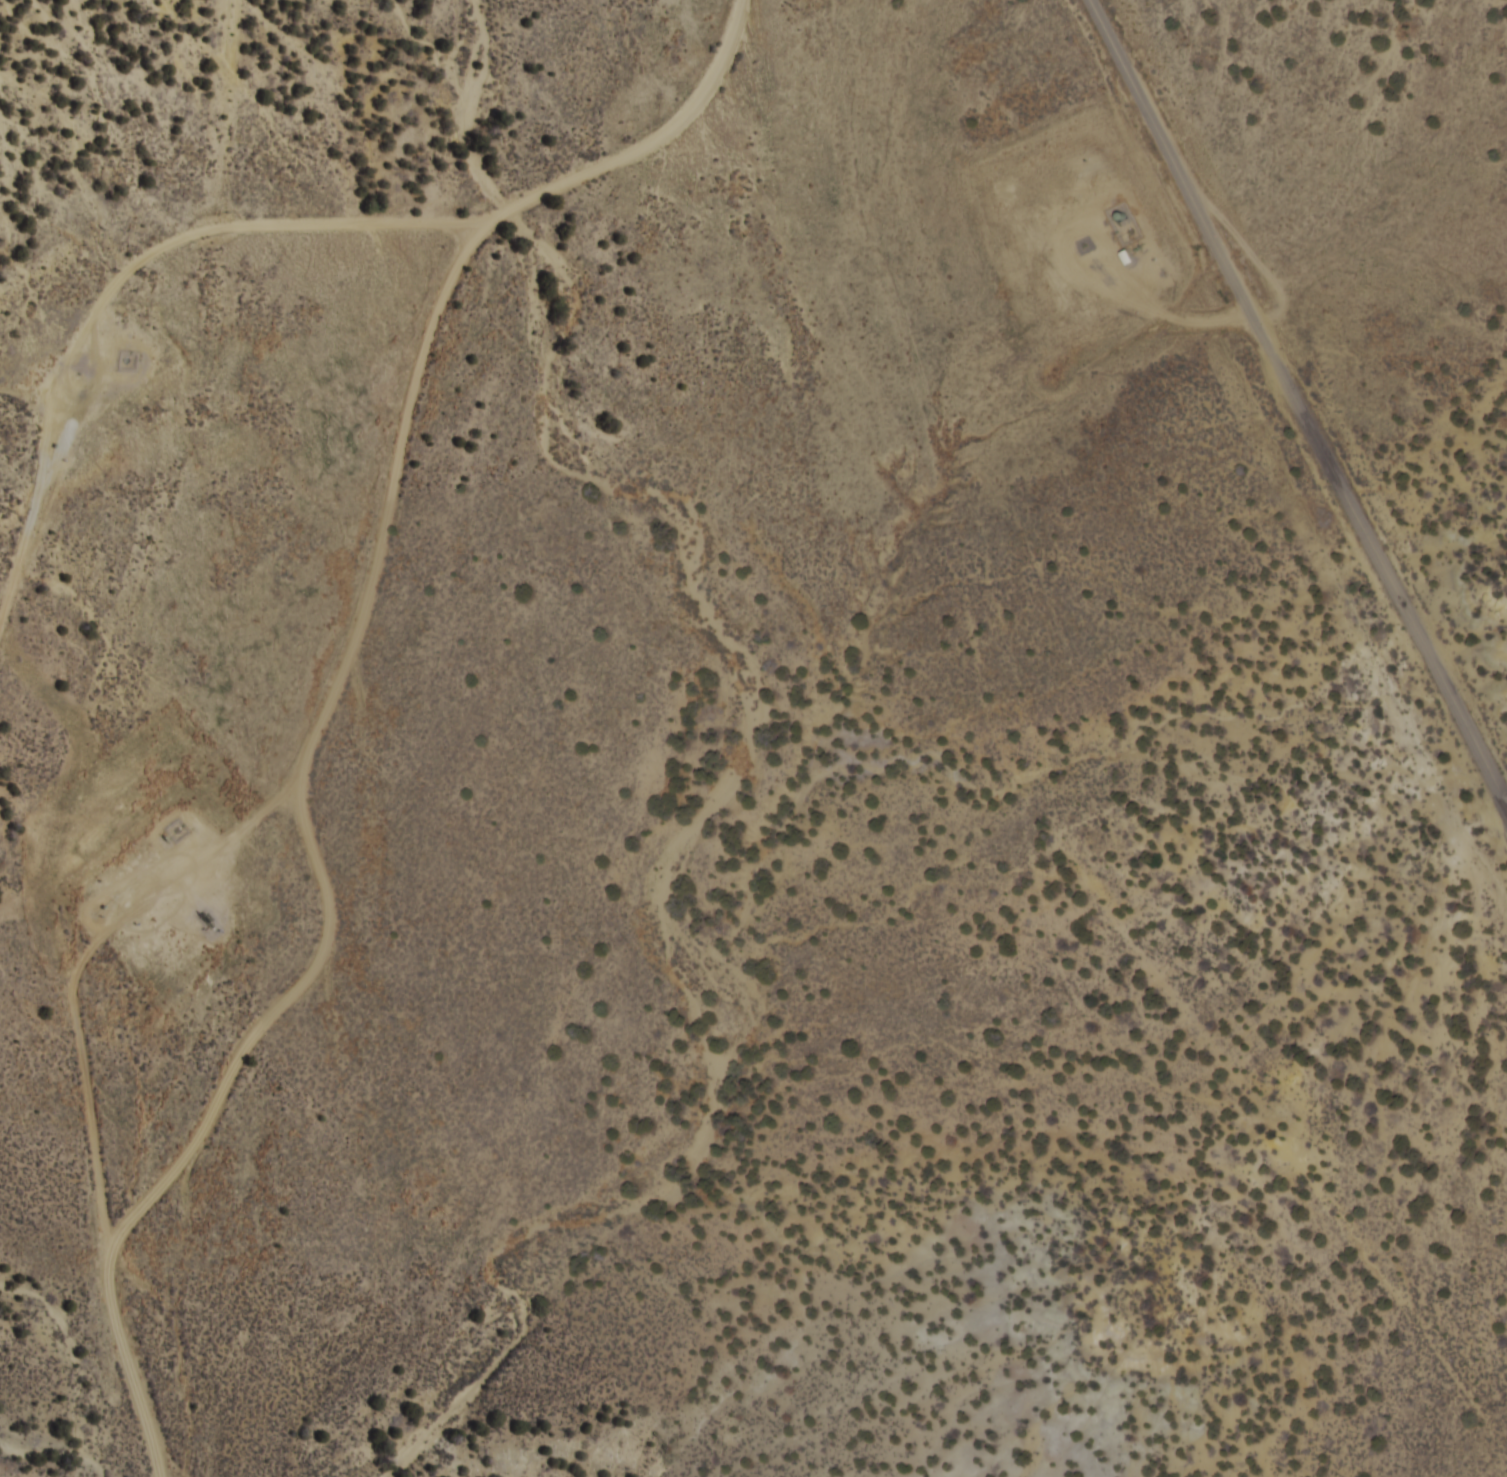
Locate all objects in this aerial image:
road: (1090, 273)
road: (236, 313)
road: (1299, 396)
road: (374, 562)
road: (103, 801)
road: (26, 936)
road: (108, 1141)

